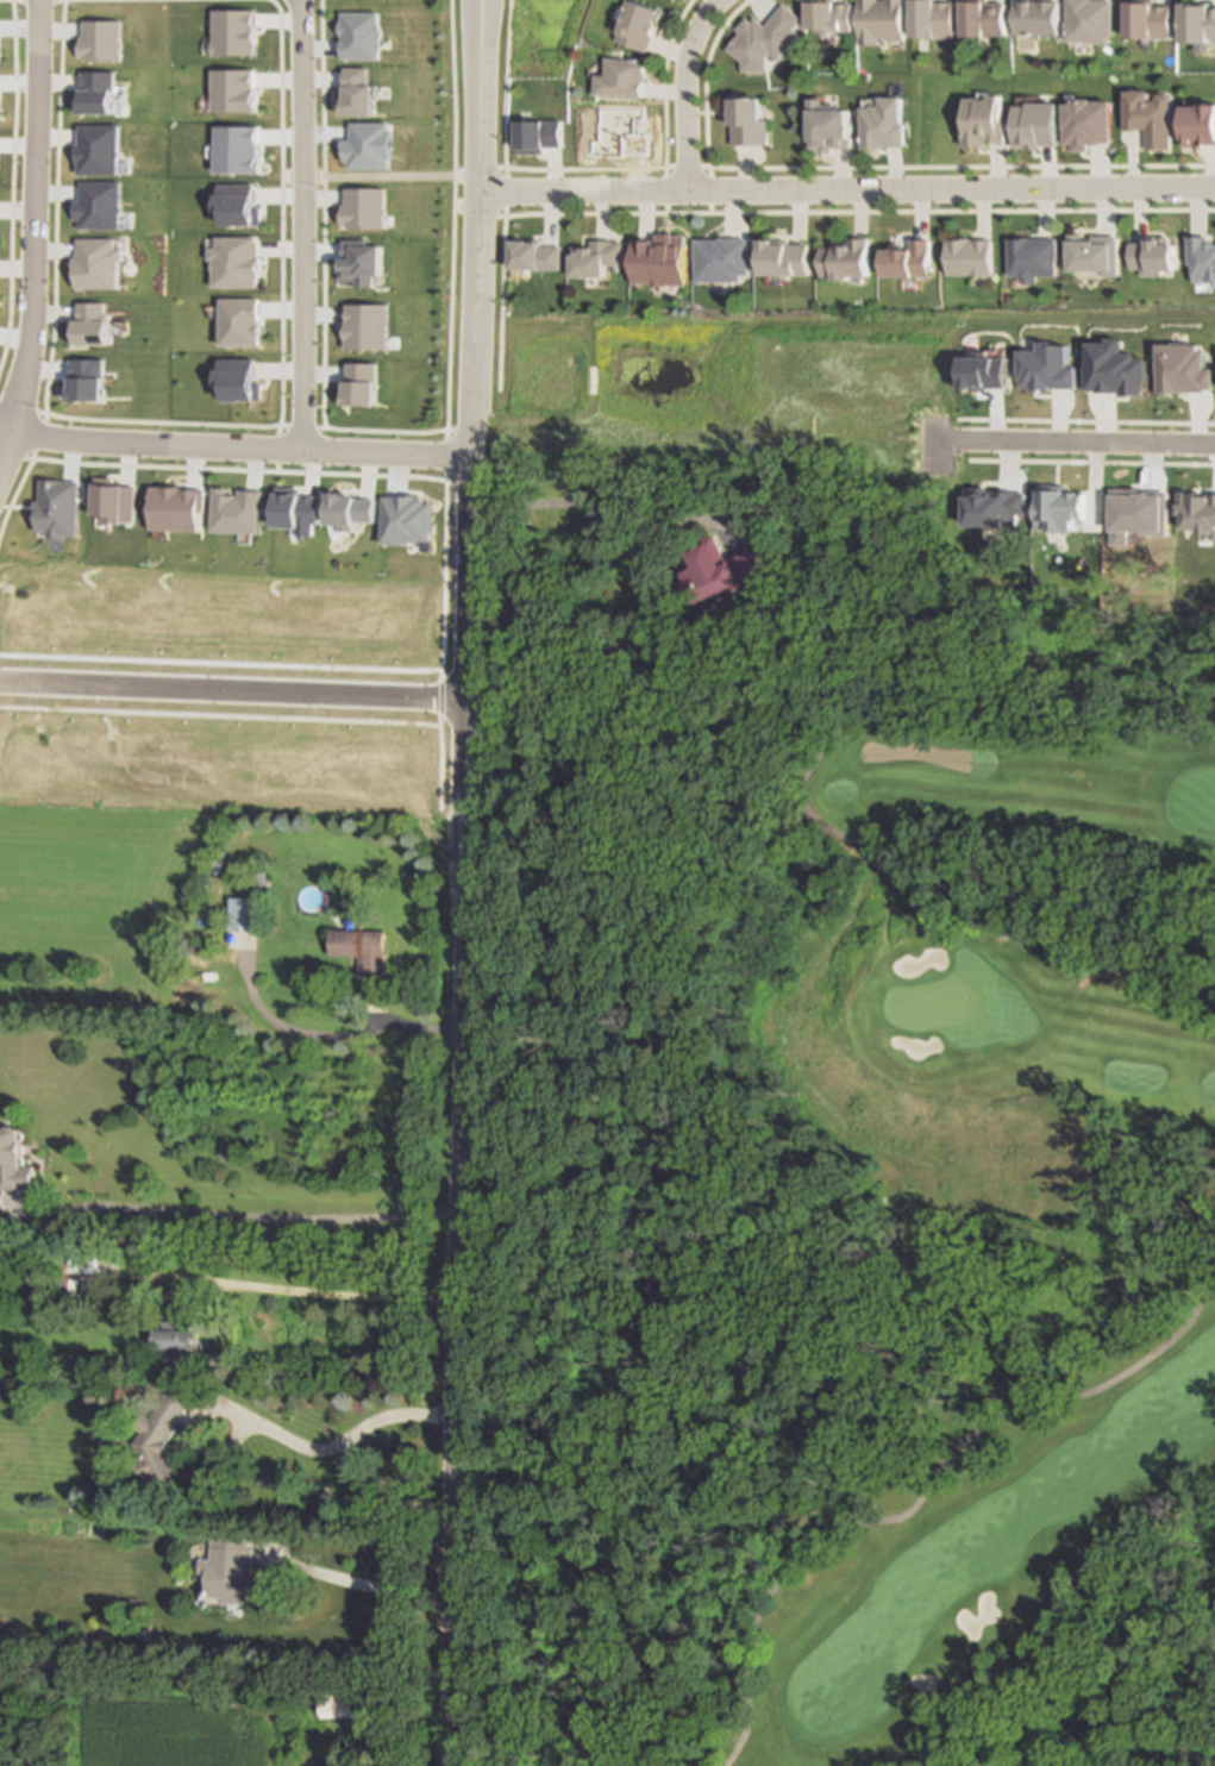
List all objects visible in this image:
building: (829, 17)
building: (933, 19)
building: (984, 19)
building: (1036, 19)
building: (882, 21)
building: (637, 26)
building: (763, 42)
building: (619, 81)
road: (682, 90)
road: (702, 98)
road: (660, 104)
building: (1150, 117)
building: (984, 120)
building: (746, 121)
building: (1088, 123)
building: (881, 124)
building: (1035, 125)
building: (1200, 126)
building: (828, 127)
road: (845, 169)
road: (378, 175)
road: (845, 190)
road: (501, 195)
road: (832, 213)
road: (301, 224)
road: (35, 233)
building: (1092, 253)
building: (1150, 255)
building: (1031, 257)
building: (1200, 257)
building: (967, 259)
building: (906, 262)
road: (476, 263)
building: (594, 263)
building: (834, 263)
building: (716, 264)
road: (449, 286)
building: (1113, 368)
road: (1085, 445)
road: (233, 446)
road: (595, 512)
building: (1211, 524)
building: (724, 569)
road: (232, 688)
road: (800, 795)
building: (243, 914)
building: (363, 947)
road: (320, 1034)
road: (456, 1146)
building: (14, 1159)
park: (839, 1186)
road: (242, 1215)
road: (330, 1294)
building: (180, 1332)
road: (232, 1408)
building: (158, 1440)
road: (922, 1489)
building: (234, 1574)
road: (361, 1580)
road: (1129, 1691)
building: (344, 1701)

